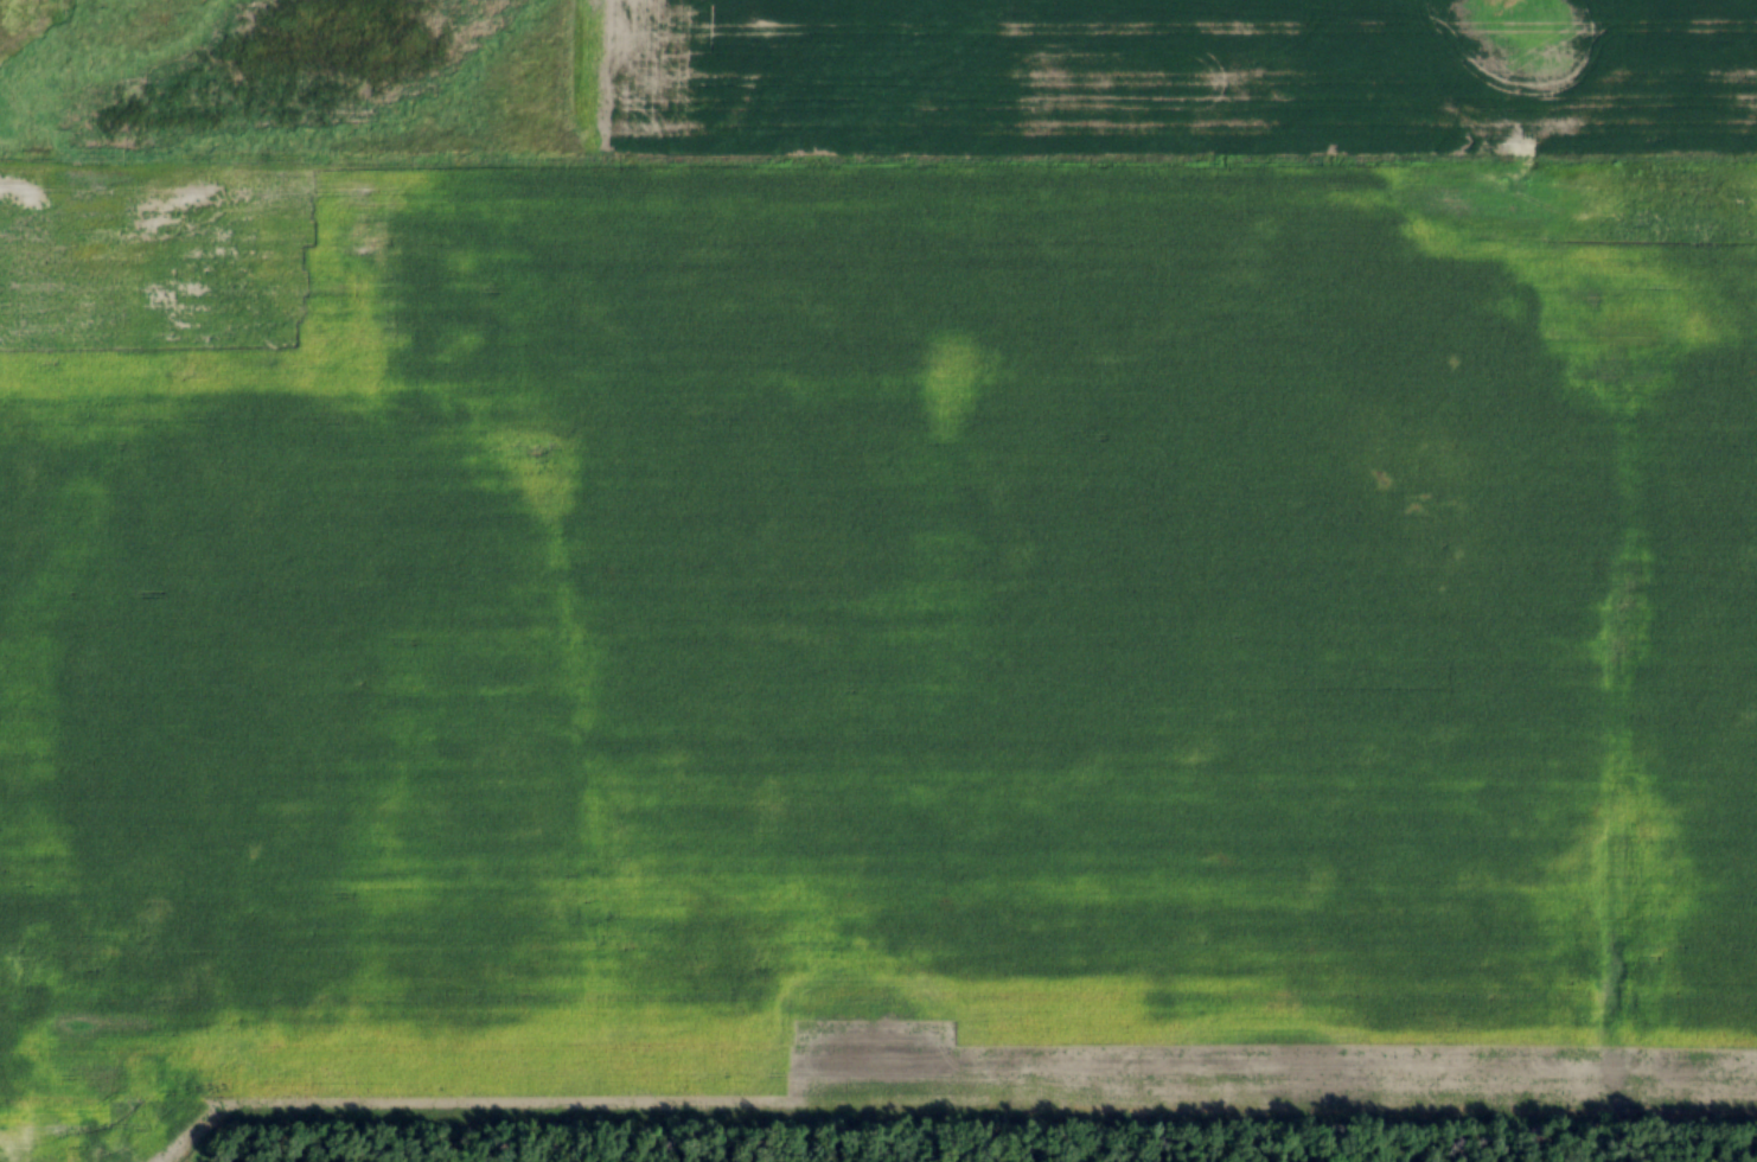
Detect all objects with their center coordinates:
building: (17, 1143)

